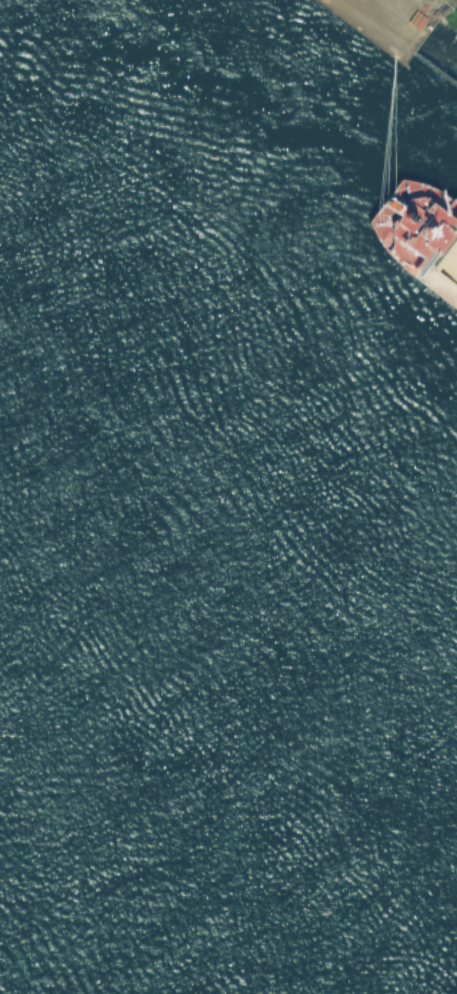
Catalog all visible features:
pier: (382, 23)
pier: (432, 72)
river: (228, 822)

